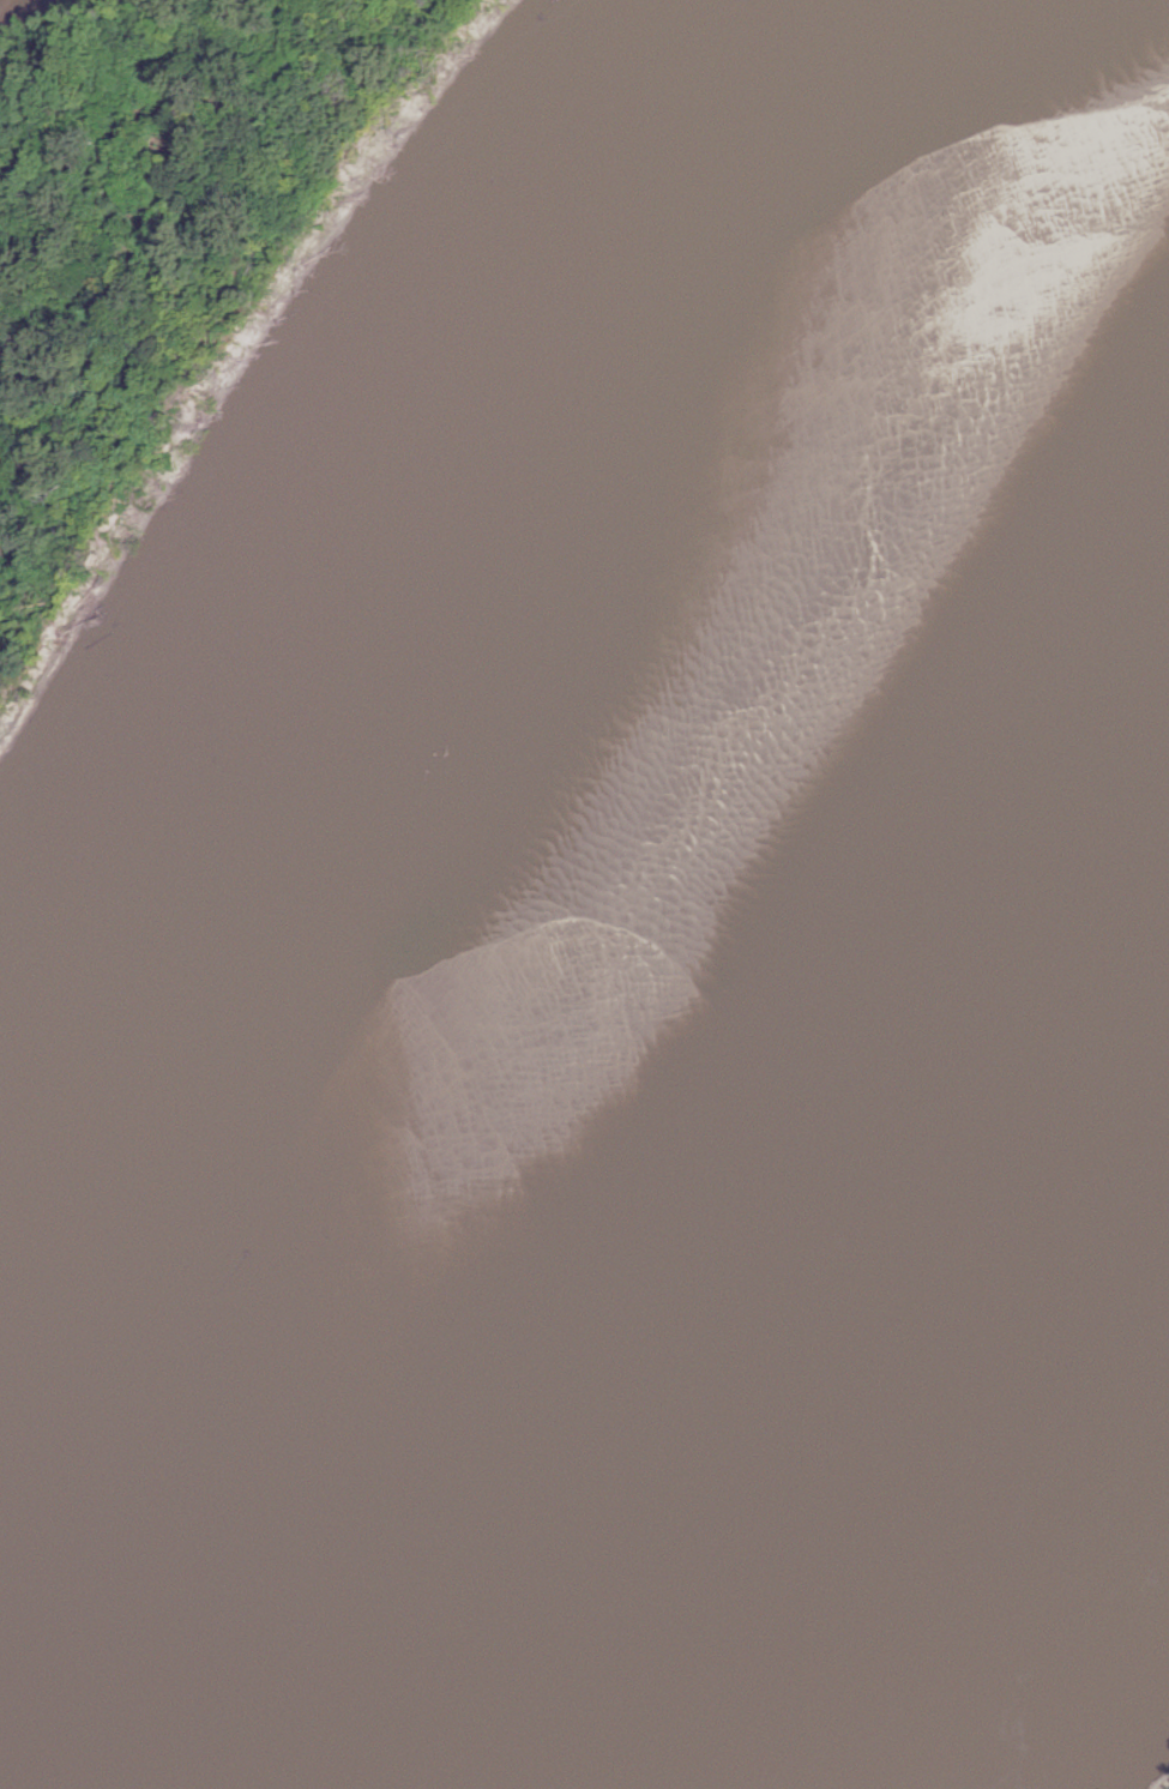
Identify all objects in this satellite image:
river: (911, 1471)

